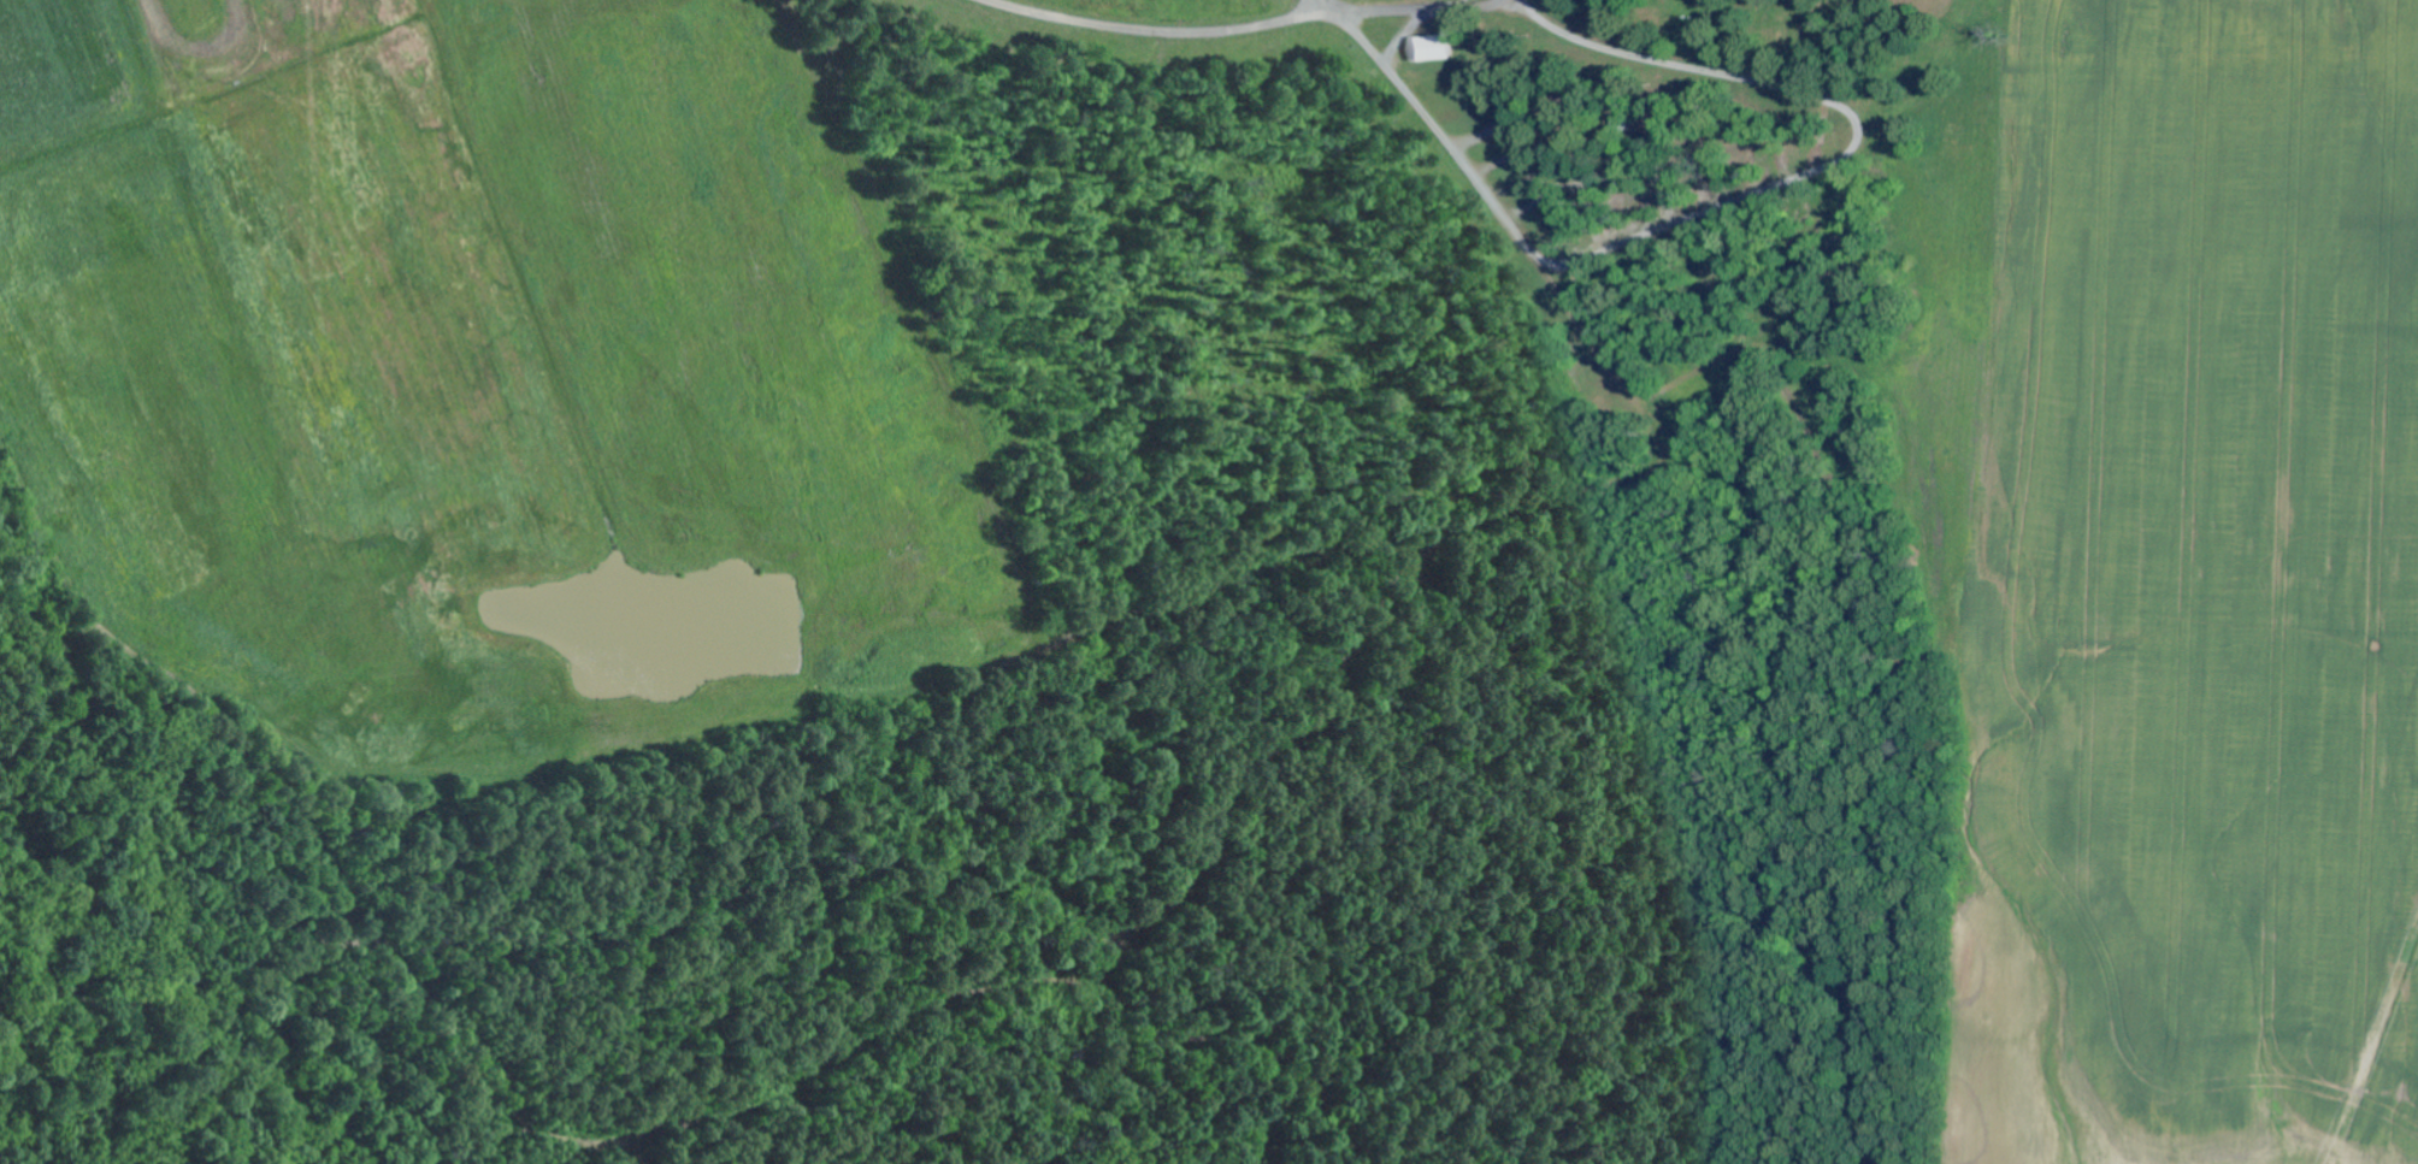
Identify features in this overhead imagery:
road: (1414, 7)
road: (1160, 24)
building: (1437, 47)

